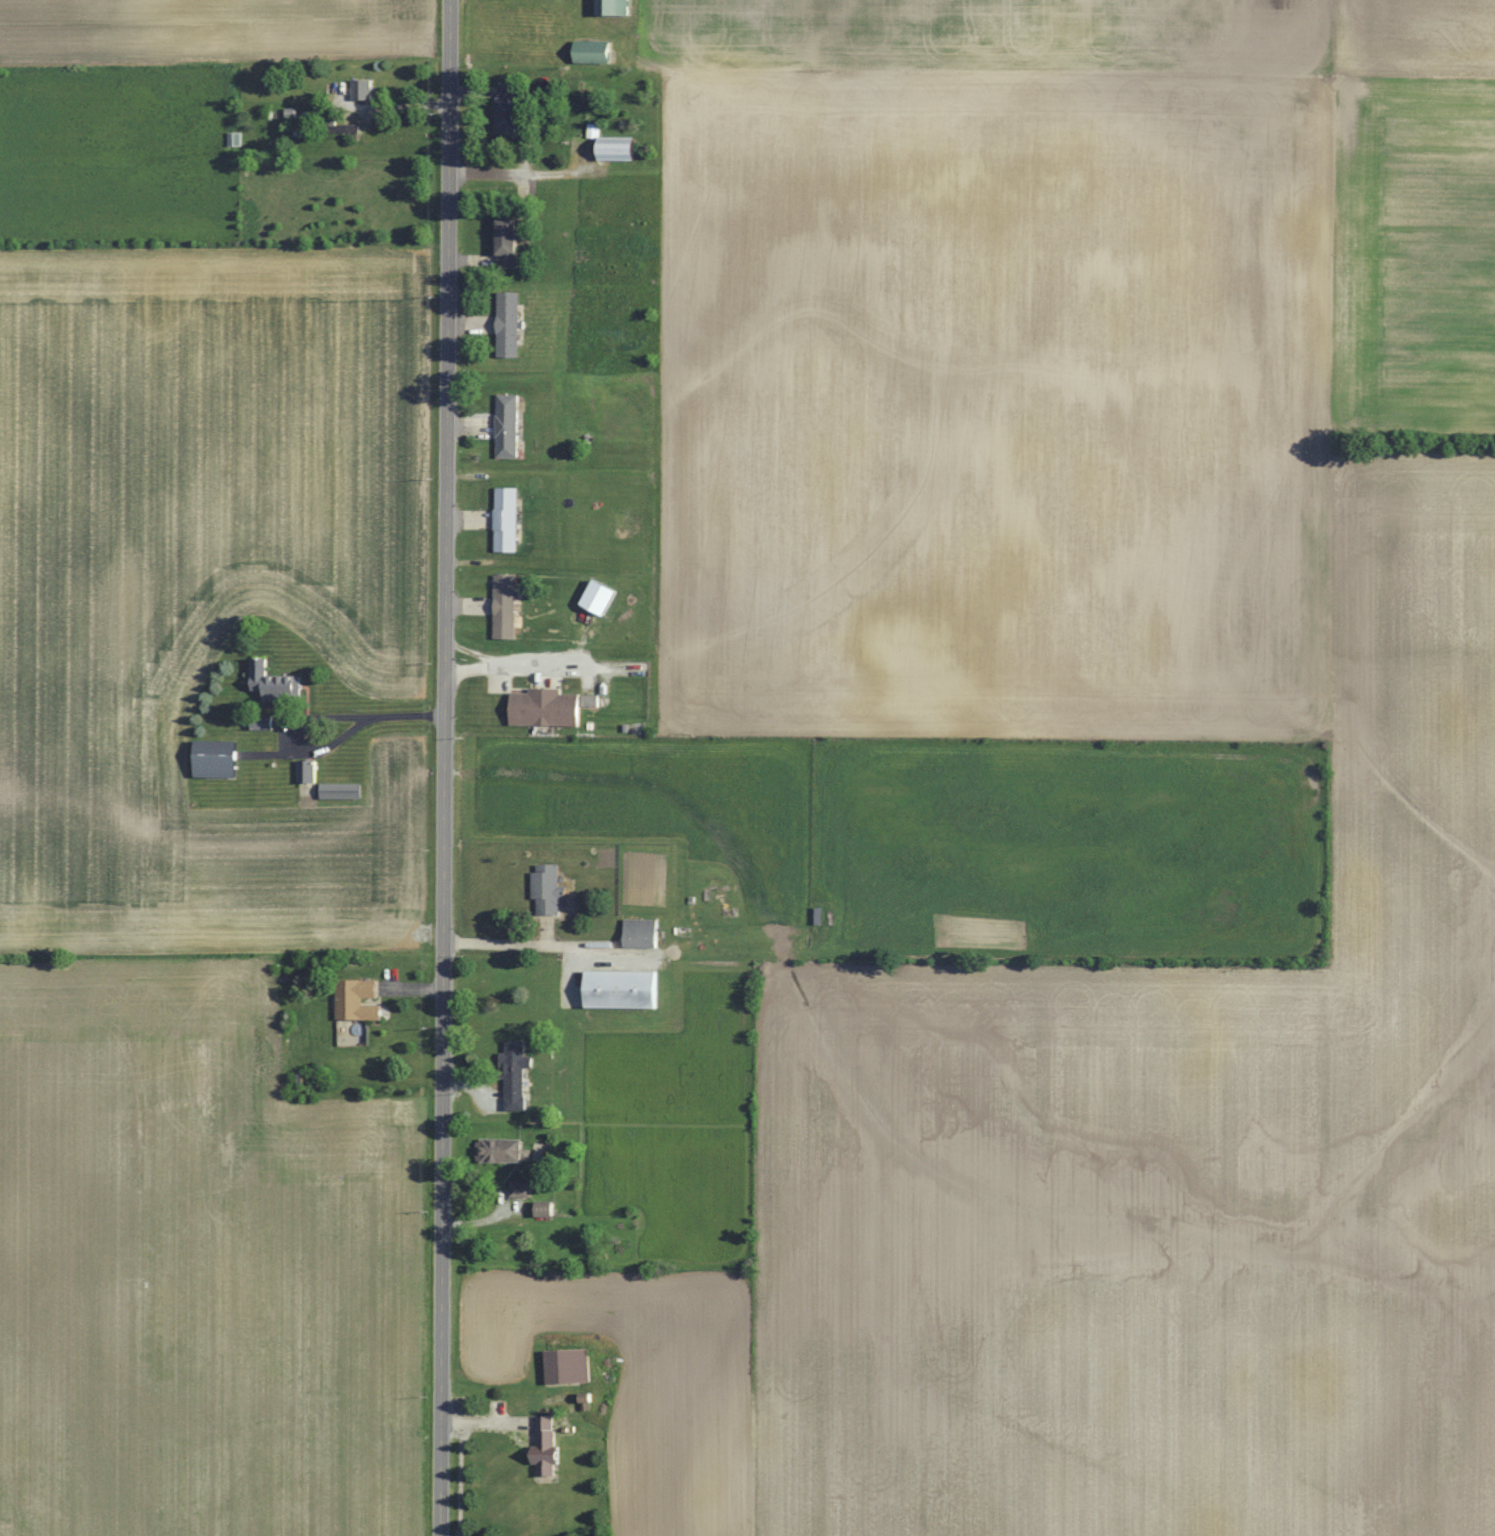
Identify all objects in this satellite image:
building: (614, 8)
building: (594, 52)
building: (363, 89)
building: (513, 111)
building: (619, 147)
building: (513, 240)
building: (509, 324)
building: (508, 425)
building: (506, 519)
building: (600, 597)
building: (506, 606)
road: (513, 668)
building: (276, 684)
building: (546, 708)
road: (324, 716)
building: (217, 759)
road: (444, 767)
building: (307, 772)
building: (342, 791)
building: (641, 933)
road: (509, 945)
building: (623, 988)
building: (359, 999)
building: (516, 1075)
building: (500, 1151)
building: (521, 1190)
building: (546, 1208)
building: (569, 1367)
building: (547, 1447)

